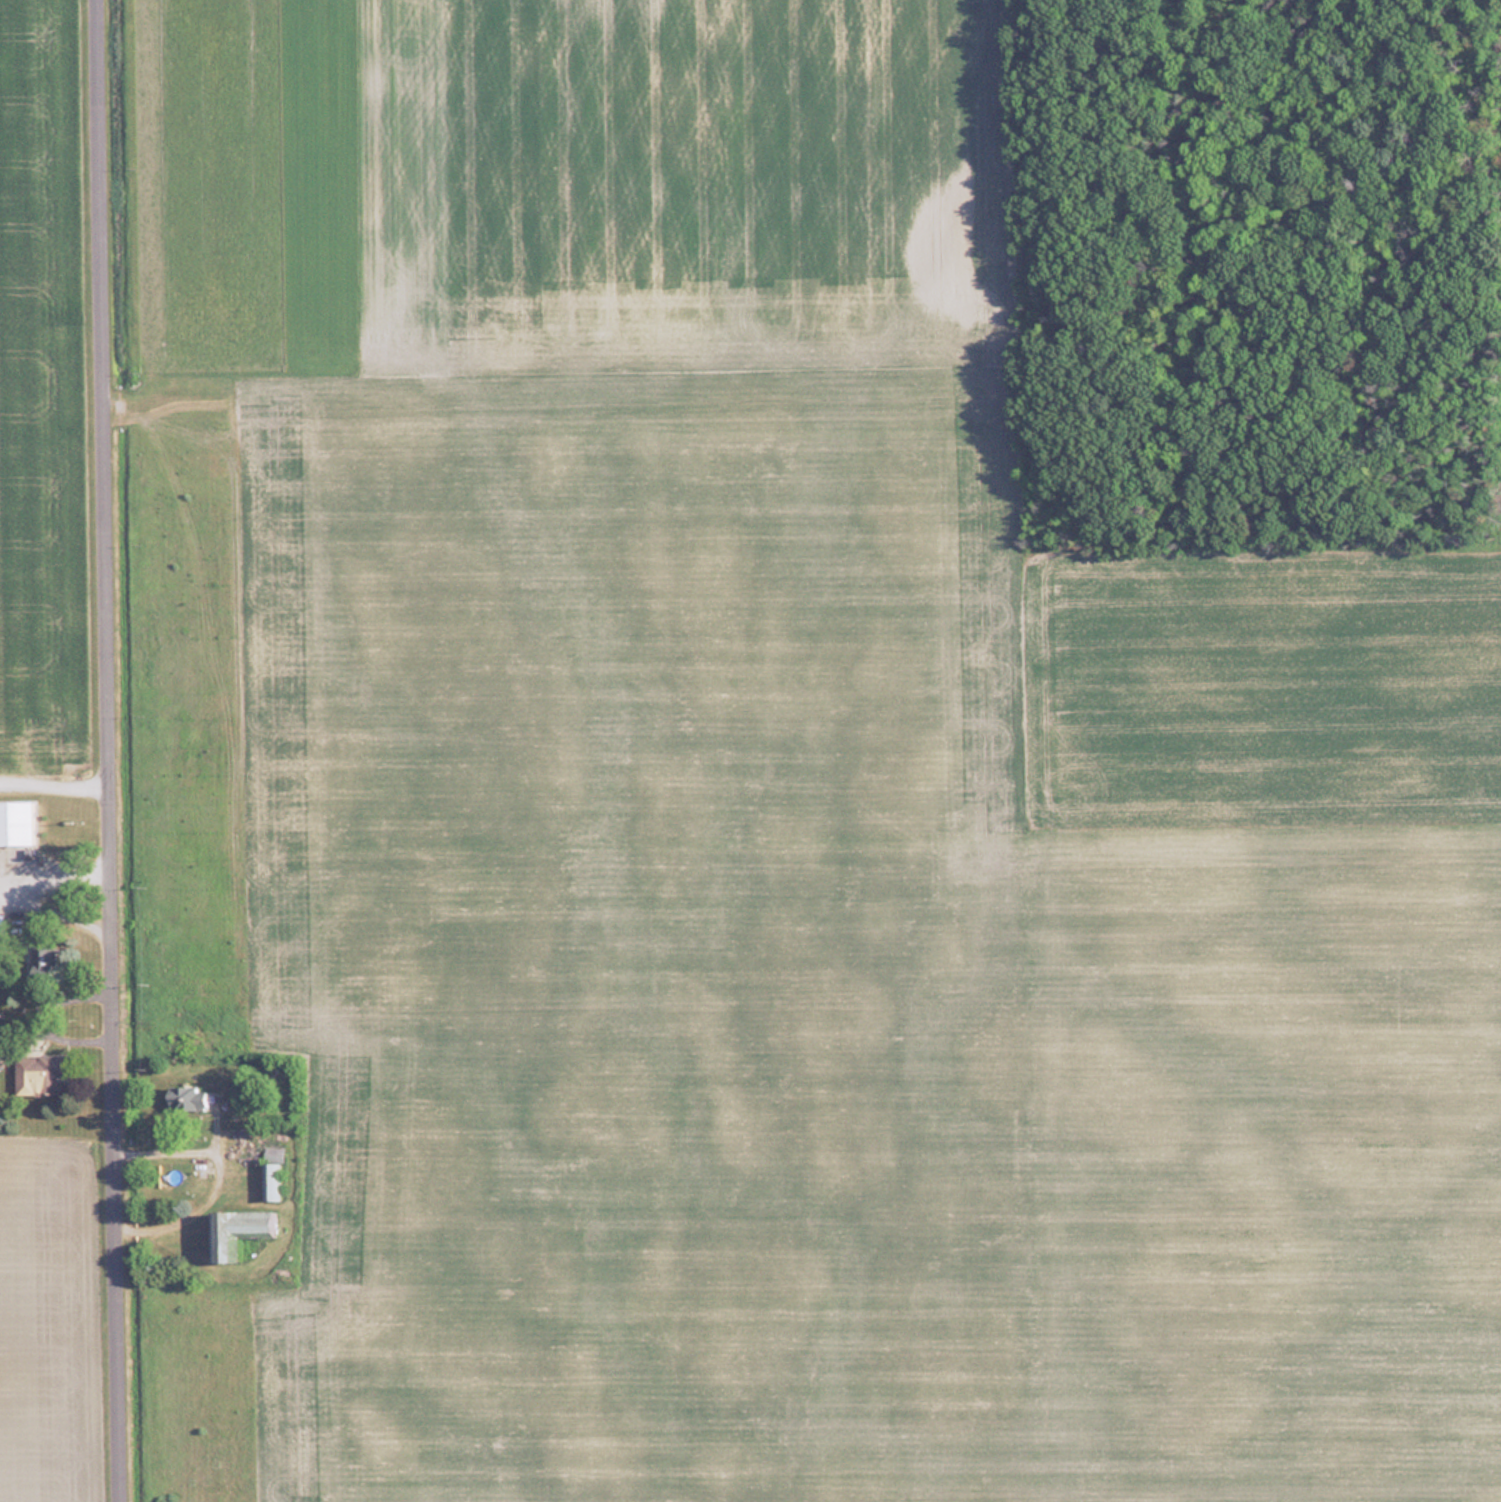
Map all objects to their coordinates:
road: (111, 750)
road: (55, 784)
building: (16, 821)
road: (59, 912)
building: (1, 925)
building: (45, 961)
building: (37, 1074)
building: (185, 1097)
building: (270, 1172)
building: (236, 1231)

